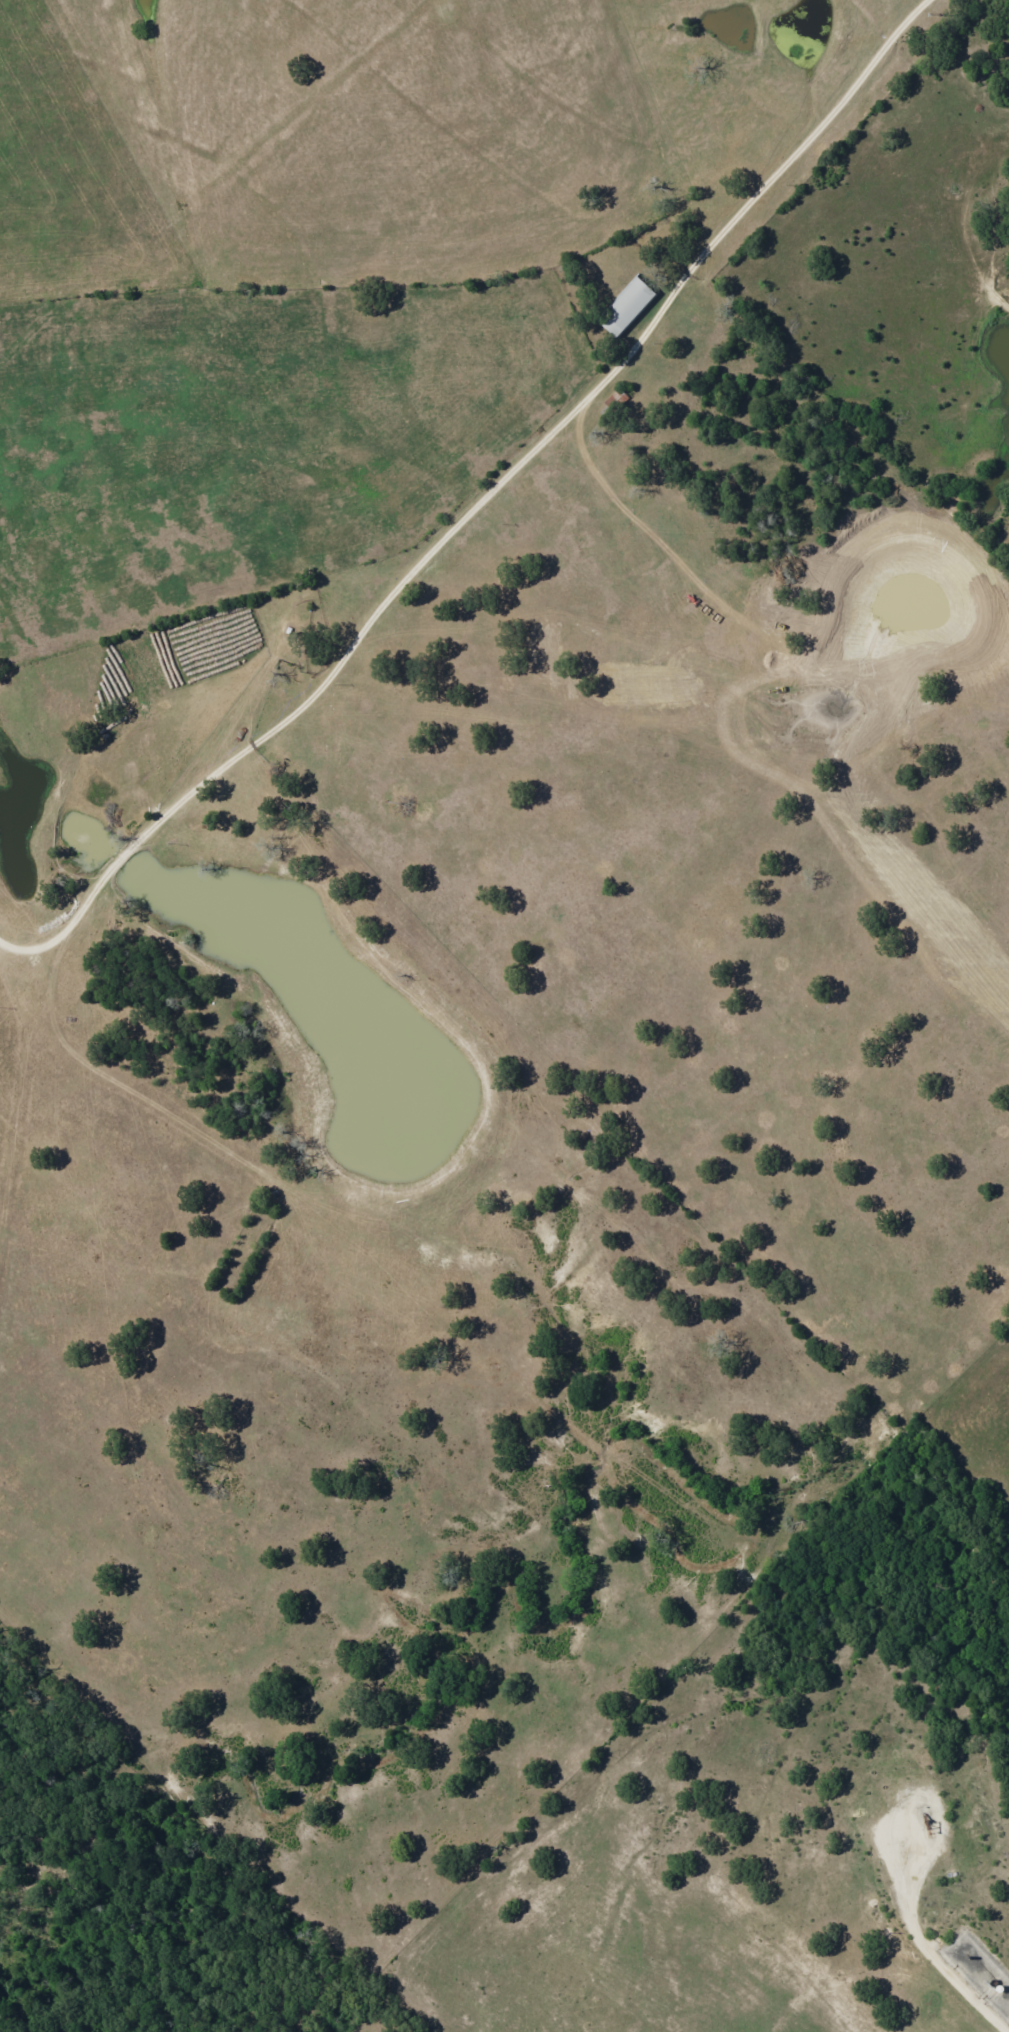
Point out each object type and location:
road: (912, 179)
petroleum well: (923, 1822)

